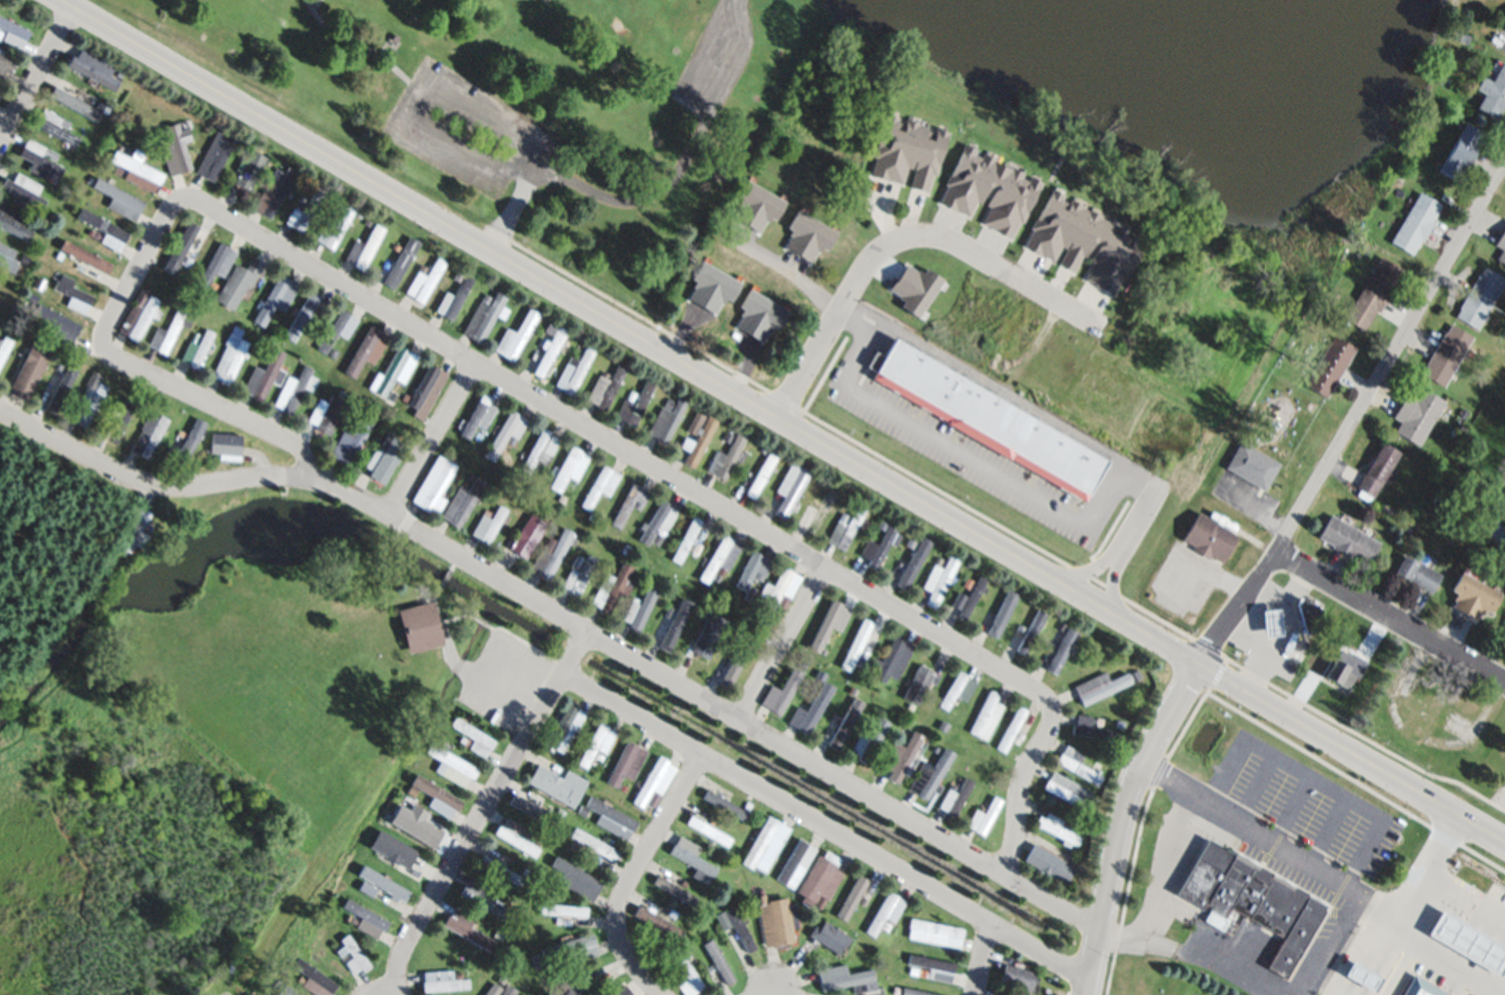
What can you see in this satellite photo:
building: (1504, 30)
building: (12, 32)
building: (0, 33)
building: (1464, 38)
building: (6, 65)
building: (93, 68)
road: (36, 74)
building: (380, 85)
building: (1493, 94)
building: (75, 104)
park: (515, 109)
building: (54, 127)
building: (173, 145)
building: (909, 149)
building: (1460, 152)
building: (214, 154)
building: (39, 158)
building: (249, 168)
building: (136, 169)
building: (276, 174)
building: (990, 190)
building: (24, 191)
building: (117, 194)
building: (272, 194)
building: (304, 211)
building: (14, 222)
building: (1415, 223)
building: (103, 228)
building: (335, 228)
building: (764, 231)
road: (899, 235)
building: (1084, 239)
building: (187, 243)
building: (394, 245)
building: (1501, 247)
building: (364, 248)
building: (7, 257)
road: (768, 260)
building: (187, 261)
building: (88, 262)
building: (217, 264)
building: (393, 266)
building: (457, 277)
building: (426, 279)
building: (238, 283)
building: (213, 285)
building: (1373, 293)
building: (72, 294)
building: (32, 296)
building: (53, 296)
building: (1480, 297)
building: (454, 298)
building: (276, 299)
building: (727, 302)
building: (138, 314)
building: (307, 314)
building: (483, 316)
building: (58, 323)
building: (335, 331)
road: (627, 331)
building: (165, 333)
building: (515, 336)
building: (5, 345)
building: (550, 347)
building: (196, 349)
building: (368, 350)
building: (1471, 352)
building: (230, 354)
building: (1446, 354)
building: (23, 355)
building: (1328, 366)
building: (574, 368)
building: (396, 369)
building: (27, 374)
building: (265, 375)
building: (57, 385)
road: (515, 387)
building: (605, 387)
building: (295, 389)
building: (427, 390)
building: (340, 395)
building: (119, 397)
building: (88, 399)
building: (634, 403)
road: (1351, 413)
building: (1417, 415)
building: (330, 416)
building: (478, 416)
building: (989, 418)
building: (116, 419)
building: (666, 419)
building: (695, 423)
building: (148, 433)
building: (506, 433)
building: (728, 436)
road: (432, 439)
building: (350, 440)
building: (182, 443)
building: (698, 443)
building: (223, 445)
building: (540, 451)
road: (953, 454)
building: (383, 455)
building: (725, 457)
building: (1252, 466)
building: (569, 468)
building: (1375, 472)
building: (760, 475)
road: (190, 484)
building: (434, 485)
building: (600, 486)
building: (790, 487)
building: (562, 499)
building: (1439, 499)
building: (462, 501)
building: (630, 504)
building: (817, 512)
building: (591, 517)
building: (842, 517)
road: (1133, 520)
building: (488, 524)
building: (657, 524)
building: (882, 525)
building: (135, 528)
building: (845, 529)
building: (527, 536)
building: (1208, 537)
building: (617, 539)
building: (686, 540)
building: (1347, 540)
building: (877, 547)
building: (626, 548)
building: (696, 548)
building: (550, 554)
road: (1114, 556)
building: (721, 558)
building: (577, 562)
building: (906, 566)
building: (754, 570)
building: (1416, 573)
building: (578, 576)
building: (939, 580)
building: (613, 588)
building: (779, 591)
road: (1264, 593)
building: (749, 596)
building: (1472, 596)
building: (967, 597)
building: (639, 609)
building: (1305, 613)
building: (1002, 615)
road: (1386, 616)
building: (831, 617)
building: (1270, 622)
building: (670, 624)
building: (1503, 626)
building: (418, 627)
building: (710, 631)
road: (1283, 632)
building: (1021, 635)
road: (1243, 637)
road: (782, 644)
building: (859, 645)
building: (1061, 651)
building: (891, 661)
building: (729, 665)
building: (836, 667)
building: (1345, 669)
building: (1135, 675)
building: (917, 683)
building: (1099, 687)
building: (958, 690)
building: (852, 691)
building: (781, 693)
building: (910, 706)
building: (811, 709)
building: (986, 715)
building: (1419, 715)
road: (743, 723)
building: (846, 723)
building: (1119, 724)
building: (943, 725)
building: (1091, 727)
building: (562, 729)
building: (1011, 729)
building: (473, 737)
building: (1019, 738)
building: (870, 740)
building: (596, 743)
road: (1348, 751)
building: (901, 756)
building: (598, 757)
building: (627, 763)
building: (1077, 765)
building: (451, 766)
building: (936, 773)
building: (654, 783)
building: (557, 784)
building: (953, 784)
building: (1068, 791)
building: (434, 795)
building: (956, 796)
building: (533, 805)
building: (724, 805)
road: (485, 811)
building: (582, 812)
building: (983, 815)
building: (611, 818)
building: (713, 821)
road: (1123, 821)
building: (417, 826)
road: (826, 828)
building: (1057, 829)
building: (708, 831)
building: (520, 836)
building: (562, 842)
building: (595, 844)
building: (765, 844)
building: (388, 849)
building: (690, 854)
road: (1426, 860)
building: (795, 862)
building: (1049, 864)
building: (500, 871)
building: (697, 873)
road: (632, 874)
road: (1334, 875)
building: (576, 879)
building: (819, 880)
building: (381, 883)
building: (674, 890)
road: (1162, 891)
road: (1463, 893)
building: (480, 896)
building: (852, 898)
building: (863, 901)
building: (1250, 902)
building: (561, 910)
building: (884, 912)
building: (673, 914)
building: (364, 918)
building: (775, 920)
building: (720, 921)
building: (657, 923)
building: (702, 926)
building: (885, 926)
building: (739, 927)
building: (466, 929)
building: (934, 933)
building: (498, 935)
building: (829, 937)
road: (1328, 942)
building: (575, 947)
building: (352, 954)
road: (1351, 957)
building: (536, 959)
road: (982, 959)
building: (719, 961)
building: (712, 963)
building: (930, 968)
building: (604, 973)
road: (1229, 974)
building: (1017, 975)
building: (502, 977)
building: (846, 977)
building: (679, 978)
building: (688, 978)
building: (314, 979)
building: (443, 980)
building: (575, 982)
building: (493, 989)
building: (507, 989)
building: (287, 990)
road: (384, 990)
building: (621, 991)
road: (762, 992)
building: (917, 992)
building: (1003, 993)

